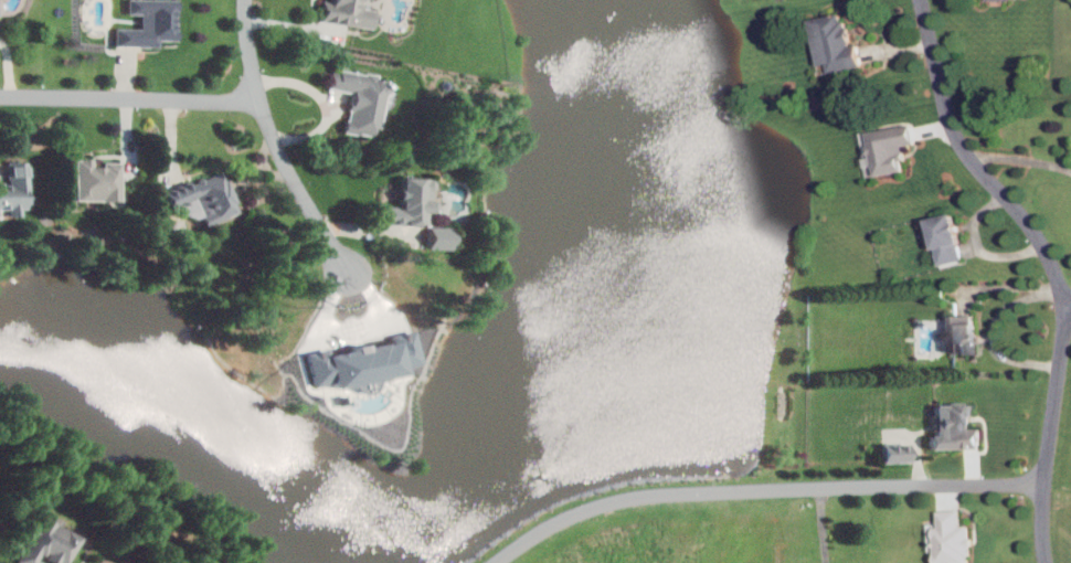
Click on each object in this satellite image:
building: (349, 12)
building: (150, 23)
building: (837, 42)
road: (131, 98)
building: (362, 98)
road: (278, 139)
building: (890, 147)
road: (1021, 158)
building: (96, 180)
building: (14, 188)
building: (209, 196)
building: (410, 202)
building: (441, 237)
building: (948, 238)
river: (583, 241)
road: (975, 246)
road: (1049, 265)
road: (1067, 302)
building: (966, 334)
building: (365, 362)
building: (956, 427)
building: (898, 453)
road: (760, 489)
river: (564, 524)
road: (823, 524)
building: (951, 538)
building: (50, 543)

